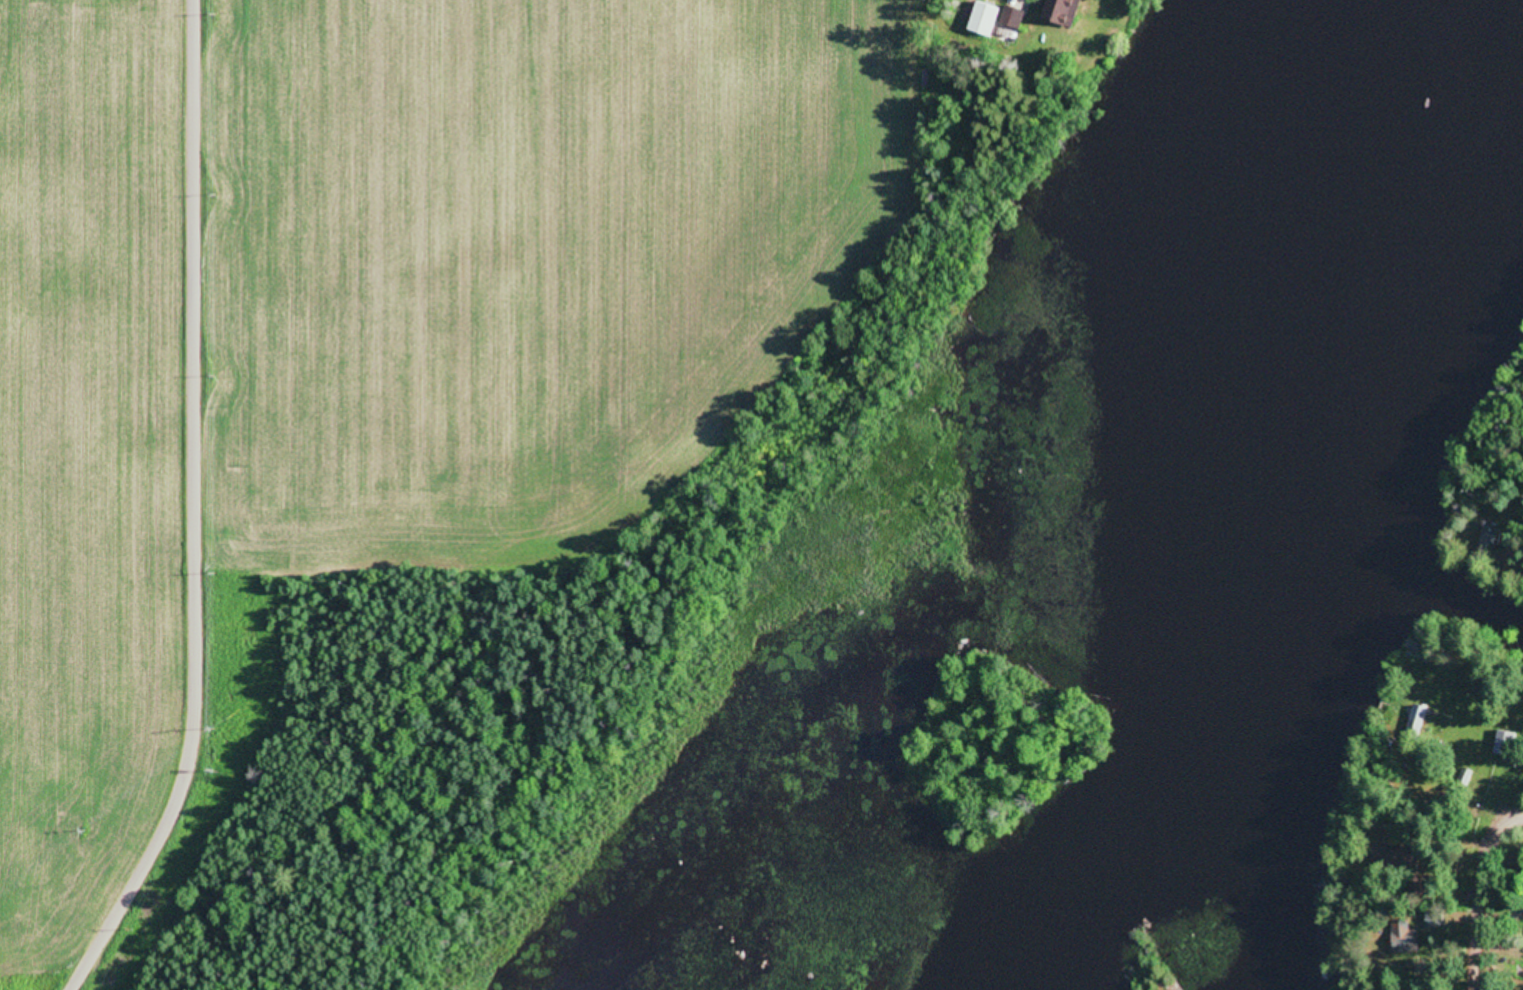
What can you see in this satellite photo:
building: (1064, 11)
building: (1012, 15)
building: (984, 17)
road: (209, 513)
river: (1300, 520)
road: (1502, 900)

